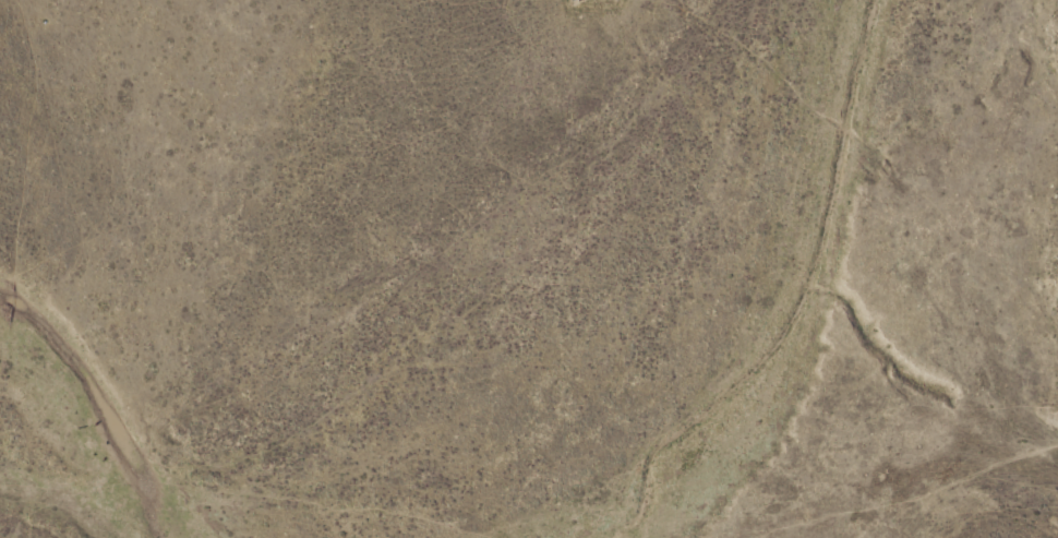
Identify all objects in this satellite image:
road: (578, 4)

